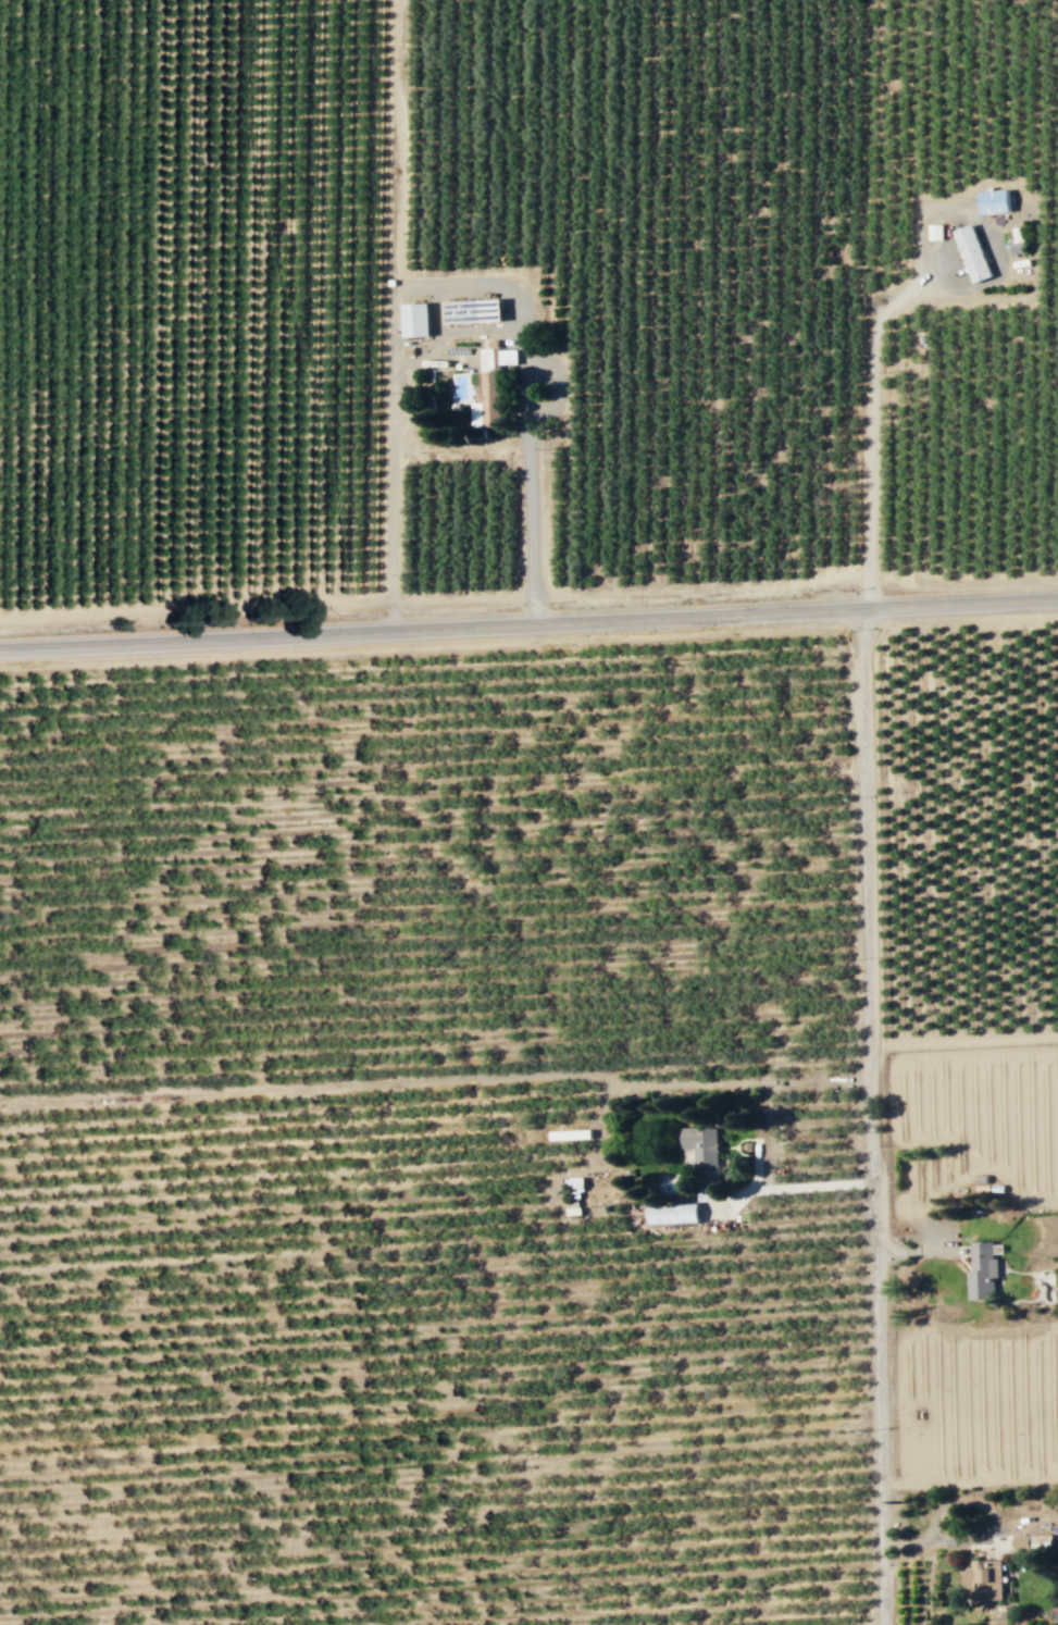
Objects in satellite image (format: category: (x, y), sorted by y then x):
road: (399, 145)
road: (862, 159)
building: (991, 201)
building: (970, 252)
road: (453, 287)
road: (434, 309)
road: (876, 319)
road: (449, 330)
building: (480, 413)
road: (461, 452)
road: (463, 597)
road: (197, 608)
road: (528, 623)
road: (964, 1041)
road: (435, 1079)
road: (872, 1116)
building: (698, 1146)
road: (775, 1187)
building: (669, 1213)
building: (979, 1272)
building: (983, 1579)

